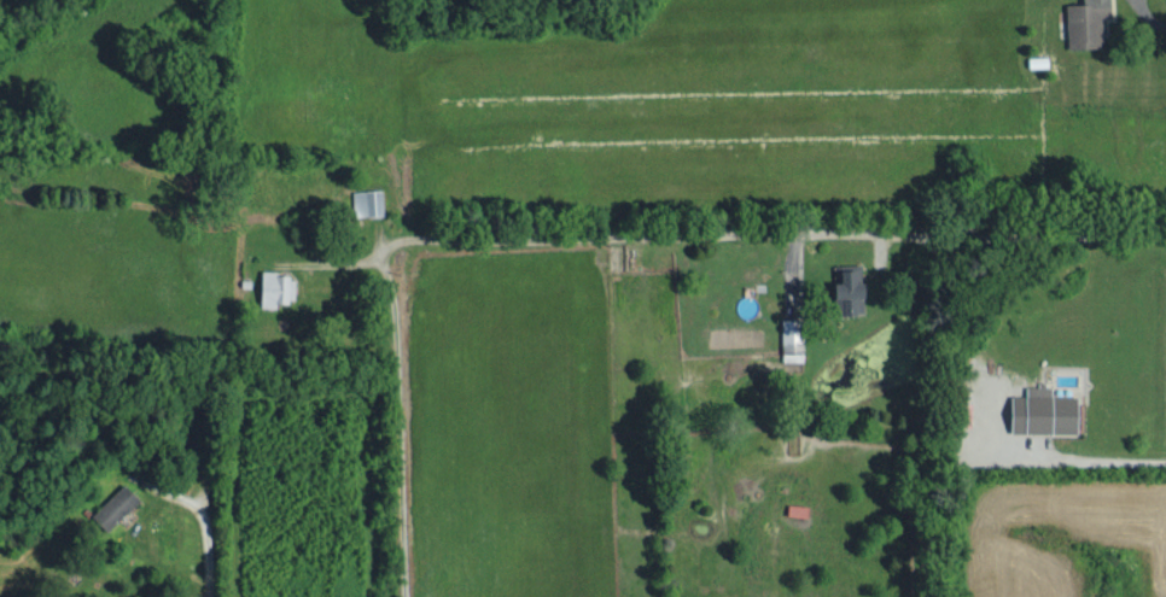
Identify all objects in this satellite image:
building: (1088, 21)
building: (368, 199)
road: (771, 233)
building: (274, 286)
building: (853, 288)
building: (793, 336)
building: (1047, 409)
road: (398, 426)
building: (116, 504)

